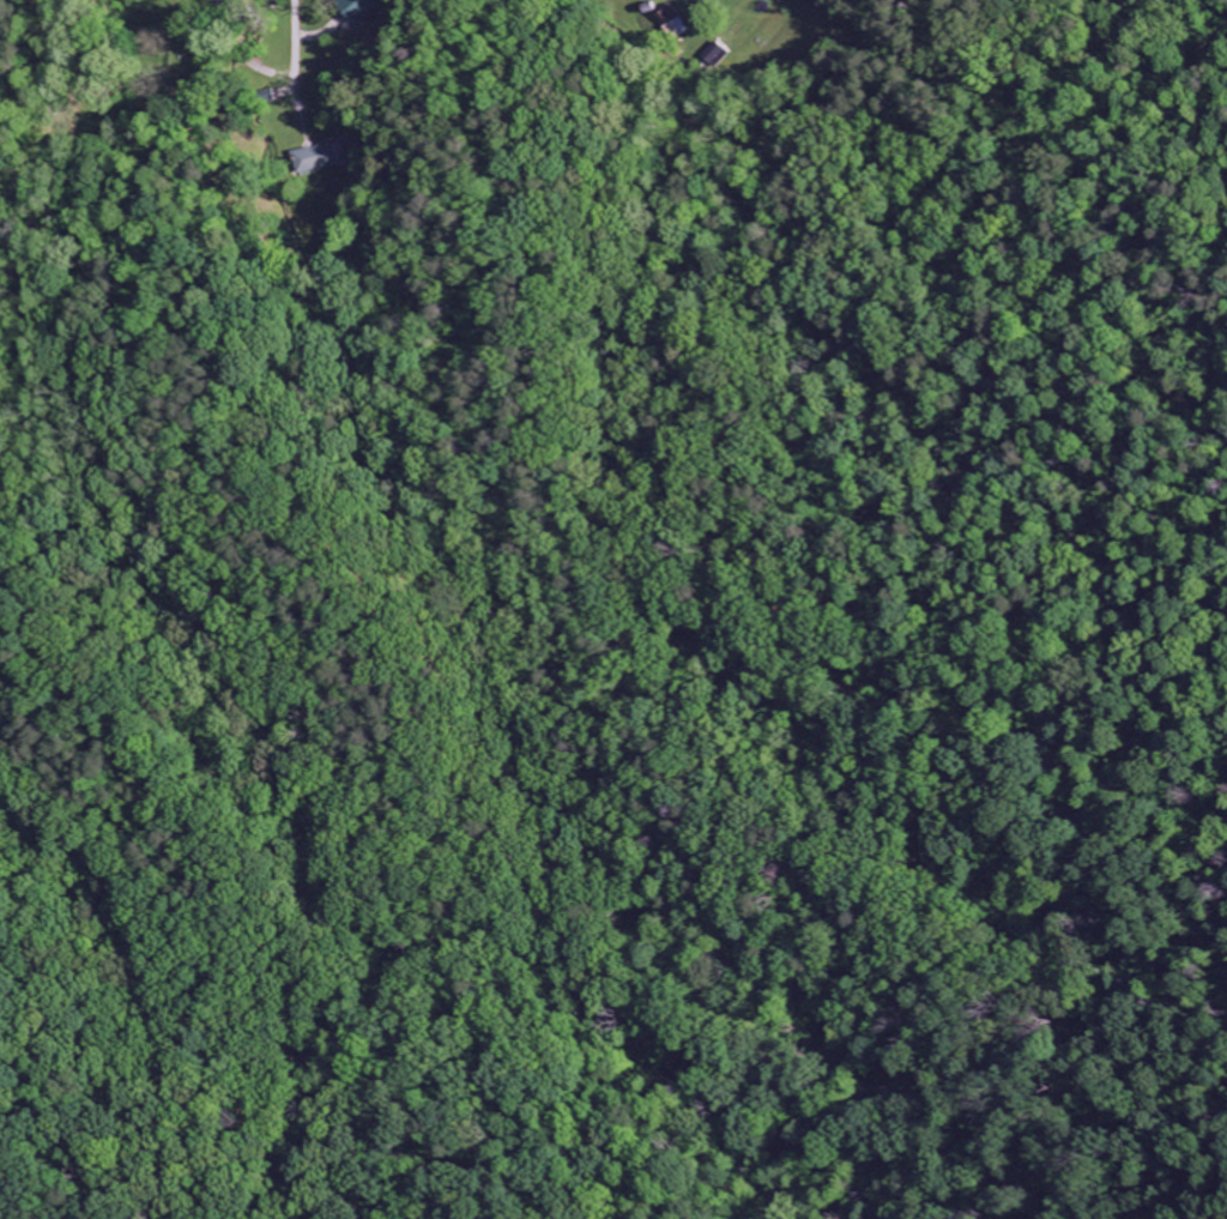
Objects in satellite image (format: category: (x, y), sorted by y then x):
building: (355, 10)
building: (675, 23)
road: (289, 41)
park: (186, 54)
building: (718, 58)
building: (316, 159)

